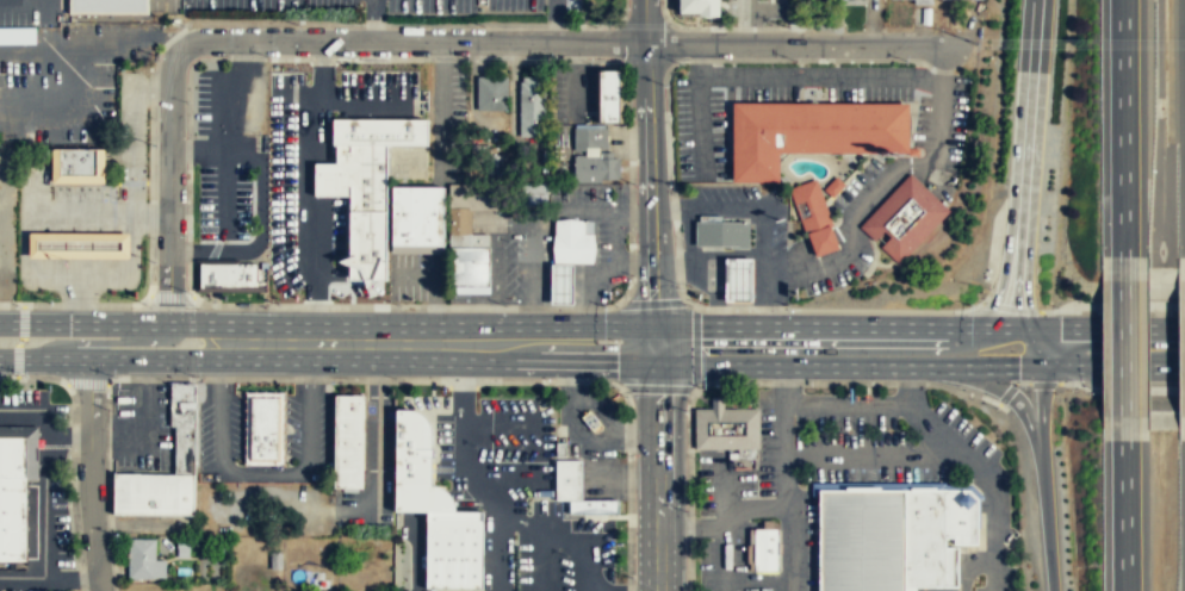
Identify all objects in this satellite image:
building: (911, 1)
building: (571, 5)
building: (107, 7)
building: (697, 7)
road: (373, 20)
road: (556, 21)
road: (643, 21)
road: (44, 30)
building: (17, 37)
road: (414, 41)
road: (794, 43)
power tower: (974, 43)
road: (572, 52)
road: (697, 58)
road: (25, 60)
street lamp: (591, 62)
road: (943, 63)
road: (321, 71)
road: (906, 75)
building: (103, 77)
parking lot: (573, 89)
road: (571, 91)
building: (491, 93)
building: (610, 93)
road: (234, 94)
road: (68, 102)
building: (531, 107)
road: (440, 108)
road: (1123, 127)
road: (135, 130)
building: (812, 130)
building: (409, 136)
building: (590, 136)
road: (198, 151)
building: (76, 163)
road: (1023, 163)
building: (596, 166)
road: (317, 176)
road: (170, 182)
building: (832, 186)
building: (536, 193)
road: (649, 193)
road: (227, 194)
road: (260, 197)
parking lot: (223, 201)
road: (671, 203)
road: (755, 204)
road: (604, 212)
parking lot: (745, 212)
building: (417, 213)
road: (497, 217)
building: (905, 217)
building: (814, 219)
building: (724, 232)
building: (573, 239)
road: (132, 242)
building: (77, 243)
road: (204, 250)
road: (632, 262)
building: (470, 265)
building: (230, 274)
road: (598, 275)
road: (780, 275)
road: (418, 278)
building: (739, 278)
gas station: (739, 278)
road: (533, 282)
building: (562, 282)
gas station: (562, 282)
road: (762, 292)
road: (497, 294)
road: (434, 319)
road: (130, 324)
road: (832, 325)
road: (1102, 326)
road: (105, 342)
road: (316, 343)
road: (513, 343)
traffic signals: (651, 346)
road: (694, 347)
road: (1123, 348)
road: (130, 359)
road: (778, 366)
traffic signals: (1017, 367)
road: (1047, 368)
road: (463, 381)
road: (784, 384)
road: (910, 384)
road: (701, 397)
road: (739, 399)
road: (1015, 400)
road: (846, 402)
building: (181, 403)
road: (35, 408)
road: (591, 409)
road: (149, 415)
road: (498, 418)
building: (590, 419)
building: (726, 425)
building: (263, 427)
road: (76, 434)
road: (948, 437)
building: (348, 440)
building: (412, 448)
building: (184, 449)
road: (784, 454)
road: (876, 456)
road: (1042, 458)
road: (377, 462)
road: (500, 464)
road: (656, 467)
road: (272, 472)
road: (91, 474)
parking lot: (603, 478)
road: (457, 479)
building: (569, 479)
road: (479, 489)
building: (153, 493)
building: (12, 498)
building: (423, 498)
road: (430, 502)
road: (471, 502)
road: (441, 503)
road: (44, 505)
building: (594, 505)
road: (755, 508)
building: (962, 515)
road: (1124, 515)
road: (994, 516)
road: (552, 521)
road: (691, 527)
road: (725, 533)
building: (864, 539)
building: (930, 541)
road: (794, 545)
building: (767, 548)
building: (454, 549)
road: (416, 550)
road: (590, 553)
building: (141, 556)
road: (504, 556)
road: (49, 577)
road: (994, 577)

